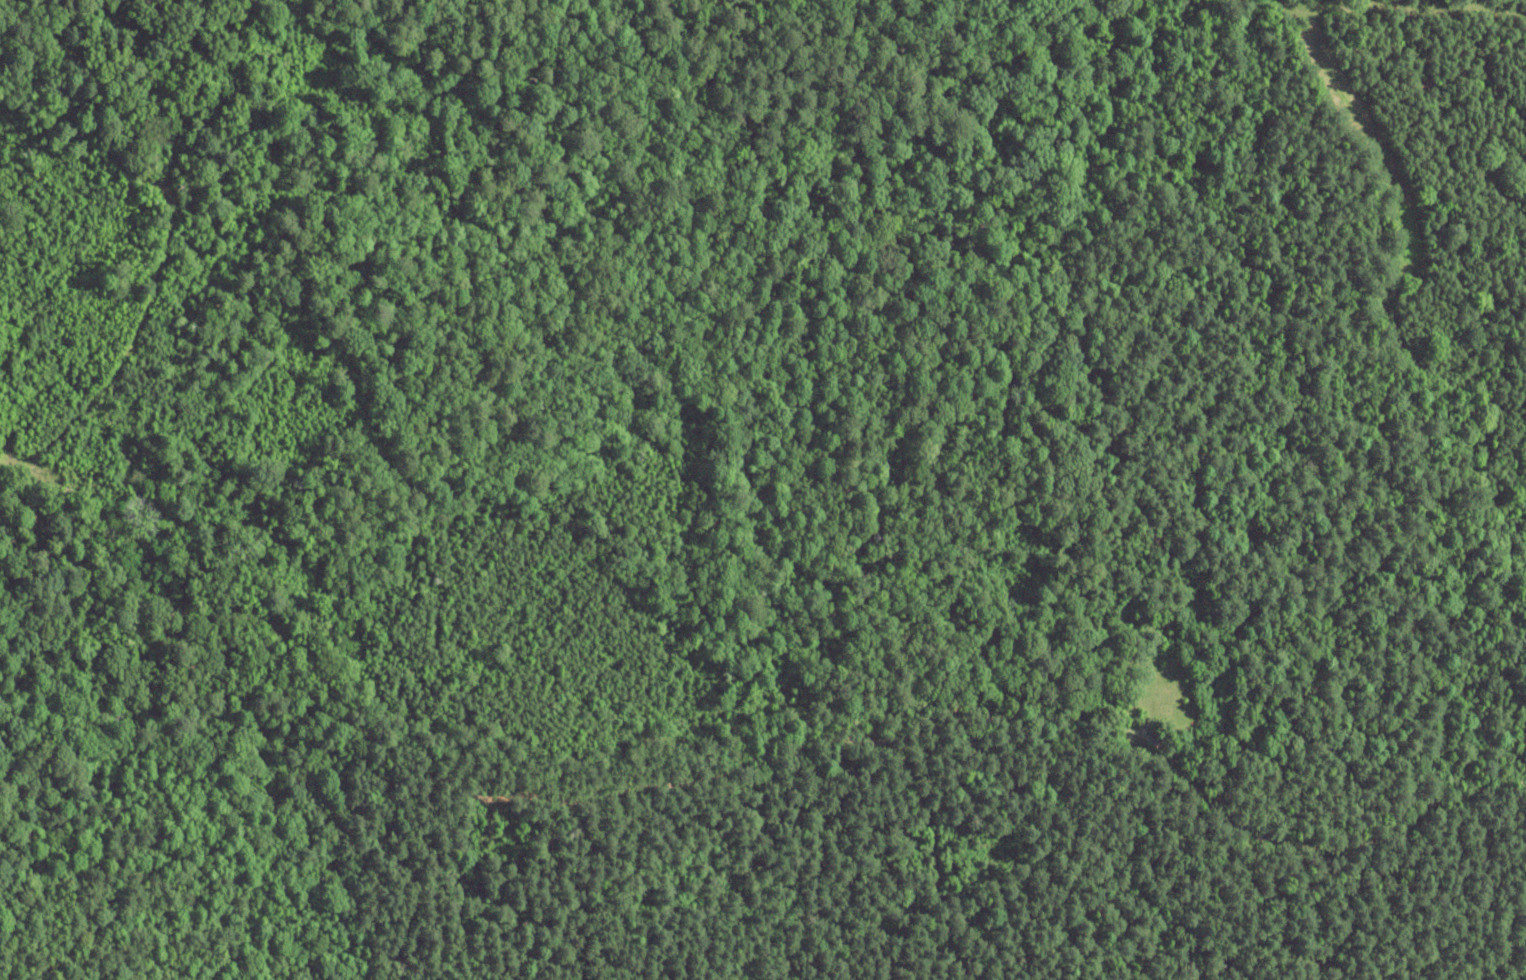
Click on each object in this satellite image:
road: (18, 458)

